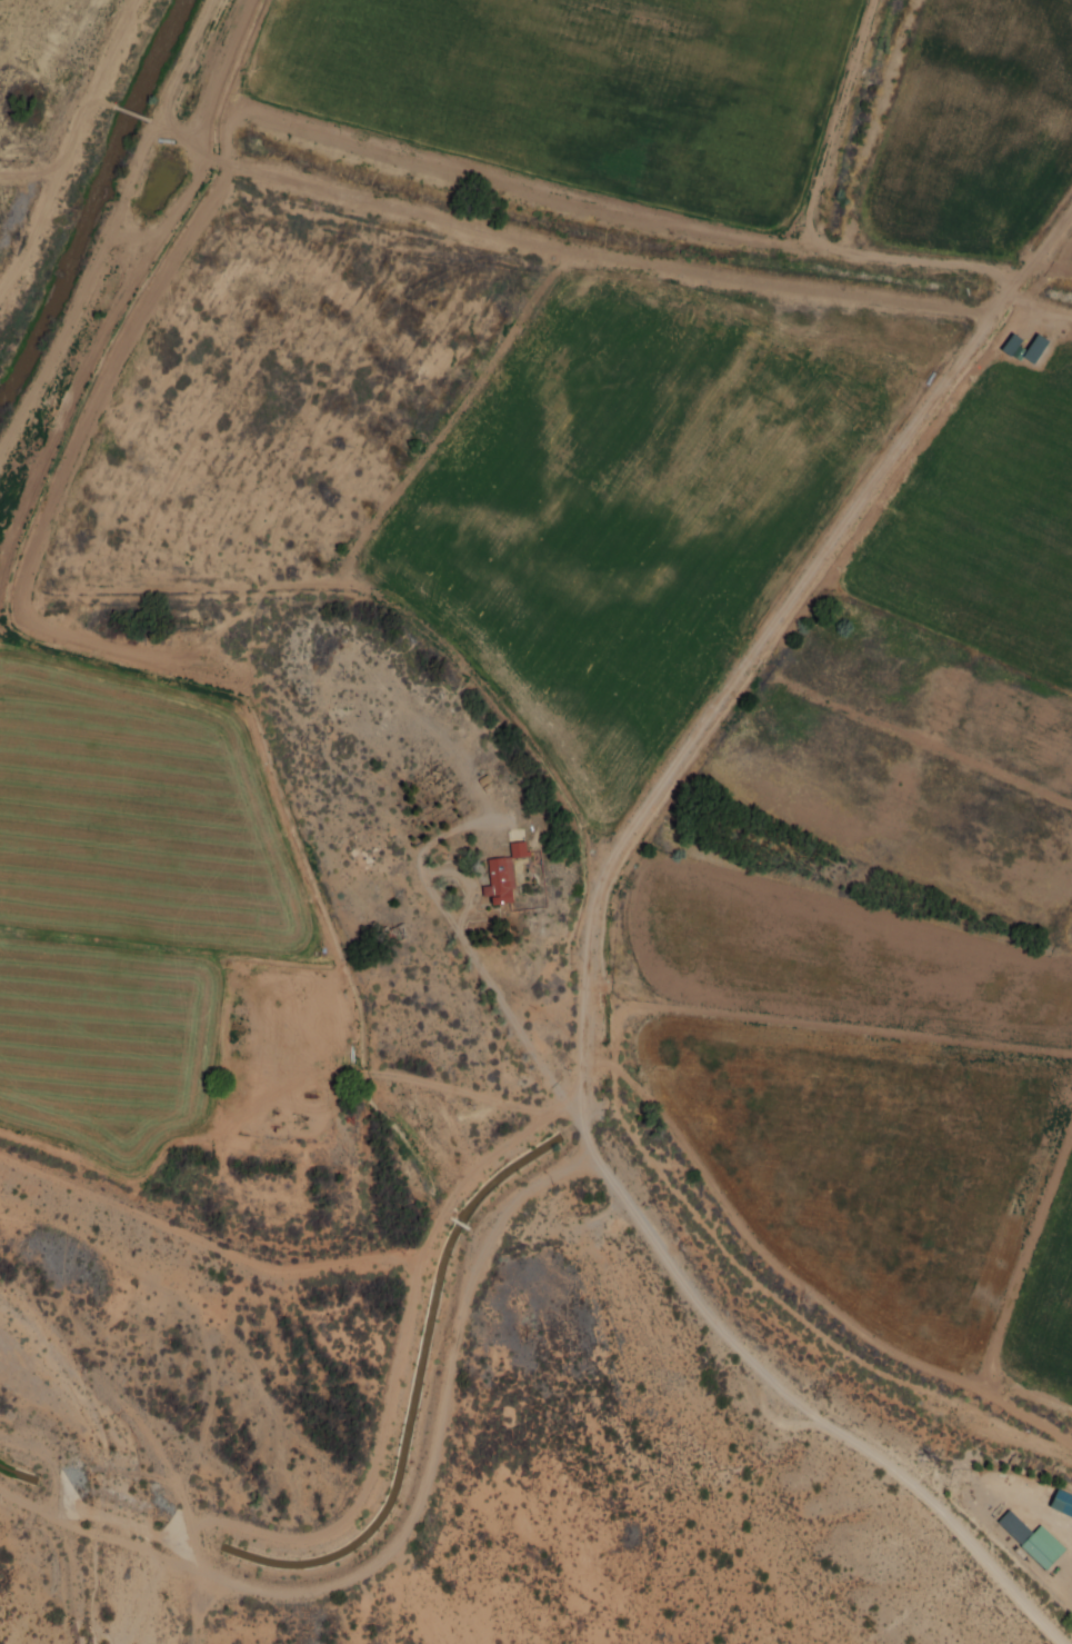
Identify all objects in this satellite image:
road: (71, 147)
road: (32, 171)
building: (1010, 345)
building: (1032, 348)
building: (502, 875)
road: (735, 1337)
building: (1061, 1502)
building: (1031, 1541)

